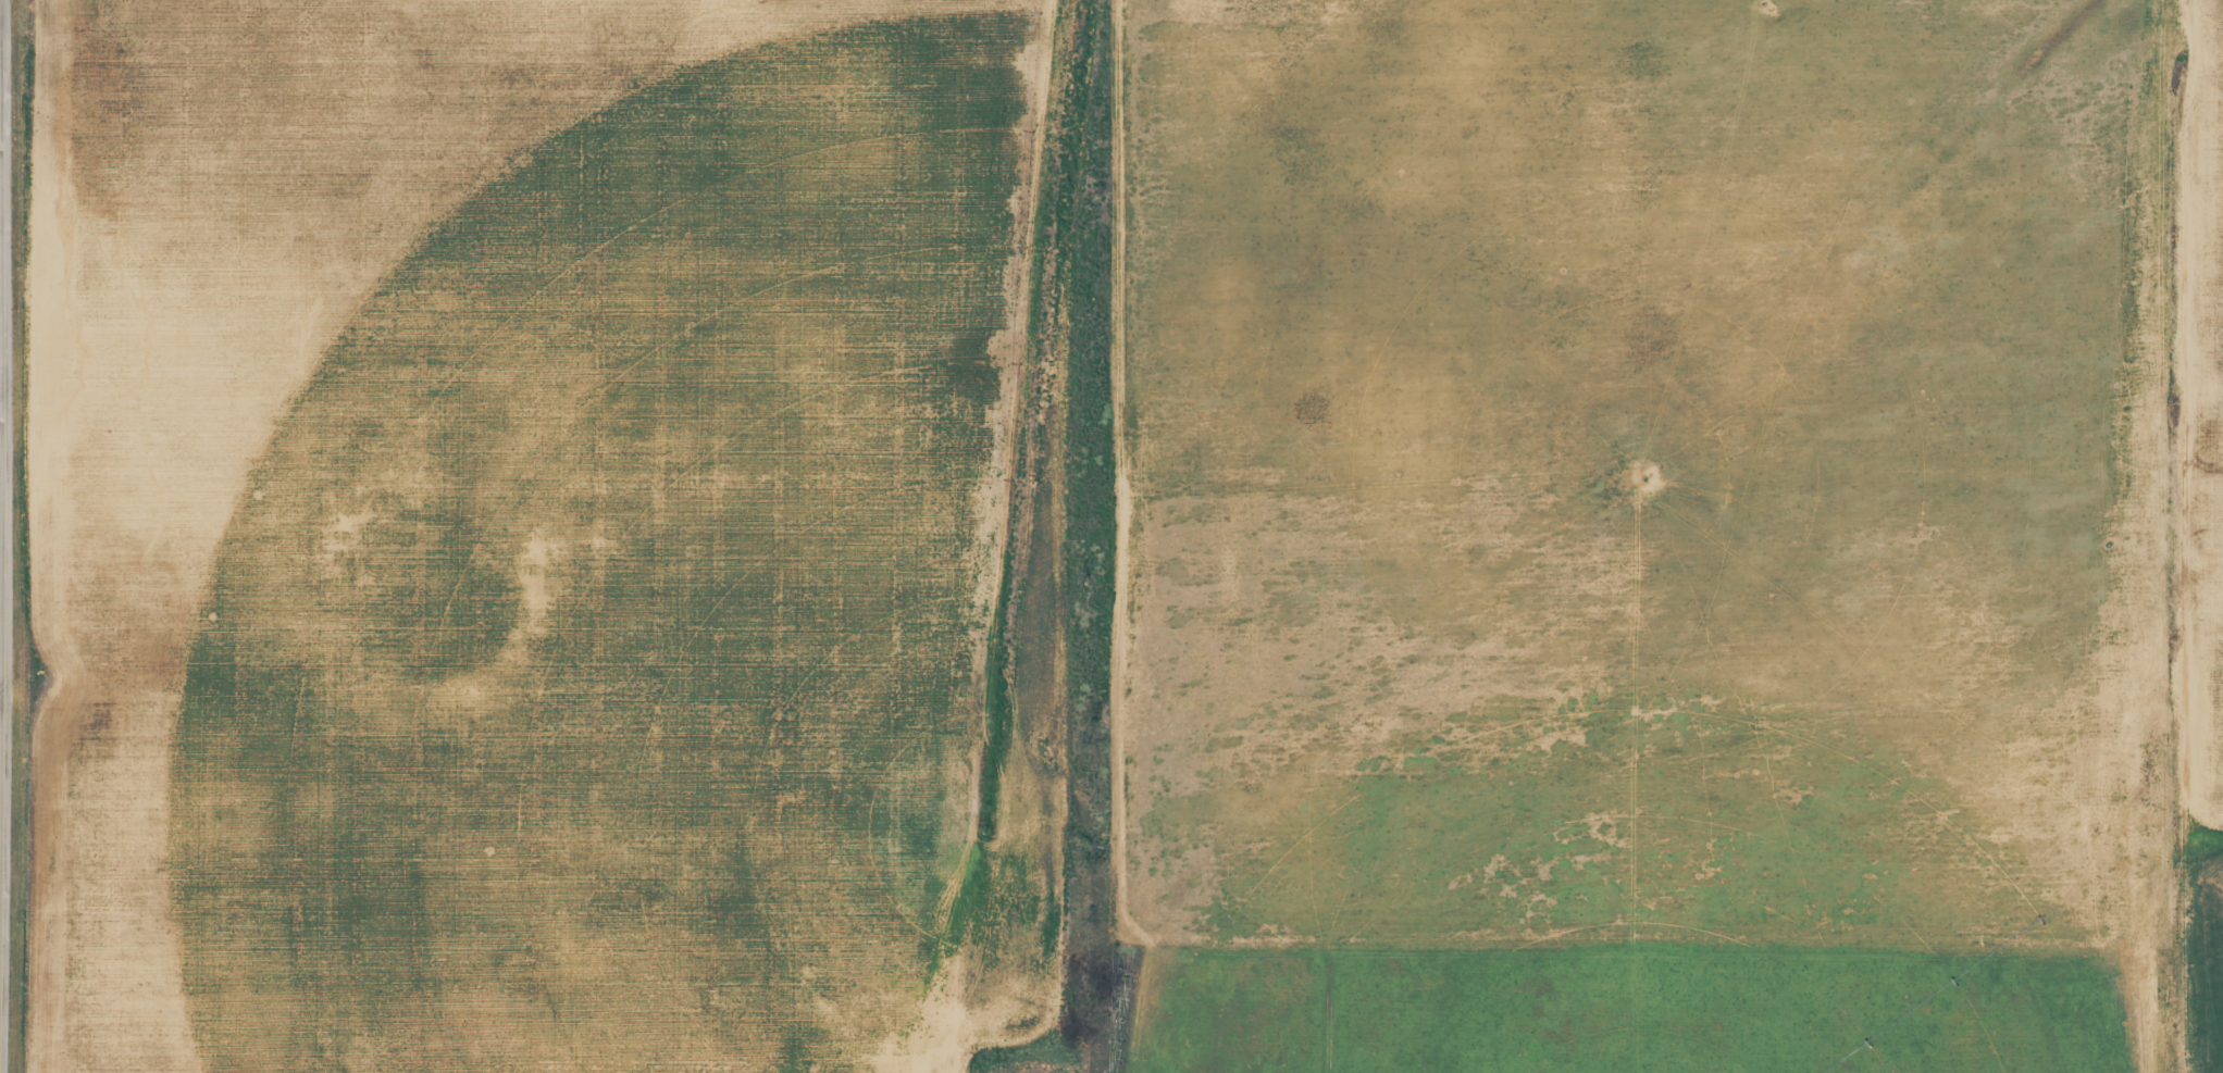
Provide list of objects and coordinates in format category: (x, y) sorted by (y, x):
road: (1240, 616)

